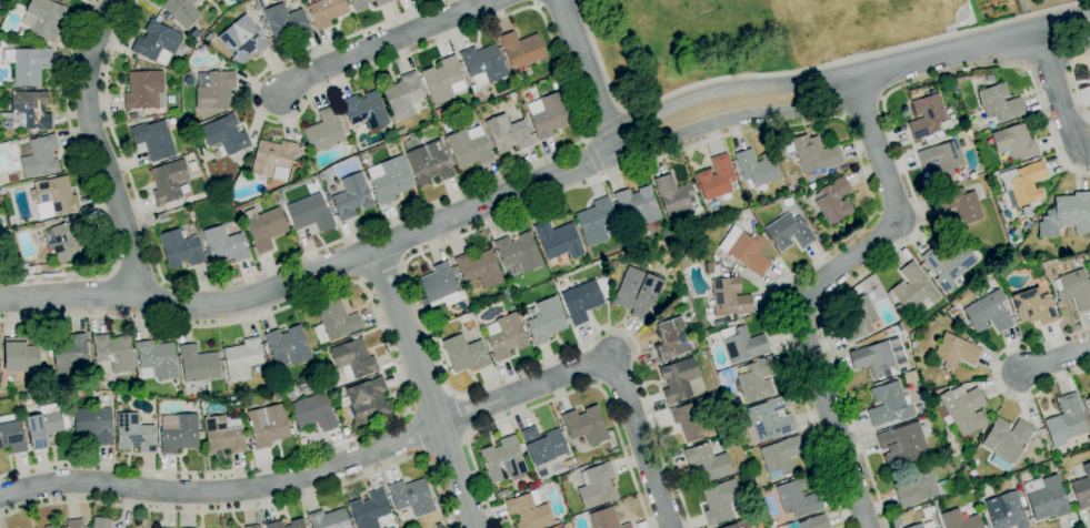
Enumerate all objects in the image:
building: (64, 0)
building: (366, 3)
building: (260, 4)
building: (183, 11)
building: (326, 12)
building: (42, 19)
building: (286, 23)
building: (209, 38)
building: (242, 39)
building: (156, 42)
road: (386, 44)
park: (684, 44)
building: (184, 49)
building: (521, 50)
building: (483, 64)
building: (28, 65)
road: (797, 71)
road: (583, 74)
building: (443, 80)
road: (1073, 80)
building: (951, 81)
building: (143, 90)
building: (214, 90)
road: (1058, 91)
building: (912, 92)
building: (520, 93)
building: (403, 97)
building: (999, 103)
building: (366, 110)
building: (27, 113)
building: (548, 115)
building: (926, 115)
building: (323, 131)
building: (401, 132)
building: (508, 133)
building: (224, 134)
building: (153, 140)
building: (400, 140)
building: (1013, 143)
building: (468, 148)
road: (98, 149)
building: (303, 150)
road: (558, 153)
building: (813, 153)
building: (40, 158)
building: (941, 158)
building: (273, 160)
building: (429, 163)
building: (757, 167)
building: (989, 176)
road: (544, 177)
building: (716, 179)
building: (13, 180)
building: (391, 180)
building: (169, 181)
road: (592, 183)
building: (1022, 184)
building: (811, 185)
road: (89, 187)
building: (672, 195)
building: (351, 196)
building: (54, 197)
road: (917, 199)
building: (833, 201)
building: (638, 204)
building: (960, 205)
building: (1026, 211)
building: (310, 213)
building: (1067, 215)
building: (594, 221)
building: (264, 227)
building: (1069, 231)
building: (789, 232)
building: (664, 233)
building: (1016, 237)
building: (66, 240)
building: (558, 240)
building: (224, 245)
building: (181, 247)
building: (744, 250)
building: (518, 252)
building: (999, 254)
building: (1078, 256)
building: (714, 257)
building: (613, 264)
building: (948, 265)
building: (479, 267)
building: (709, 267)
road: (112, 271)
road: (381, 273)
building: (929, 274)
road: (138, 278)
road: (162, 283)
building: (439, 286)
building: (473, 286)
building: (913, 287)
road: (813, 290)
building: (1073, 290)
building: (637, 292)
building: (506, 293)
building: (1052, 295)
building: (729, 297)
building: (581, 301)
building: (1033, 306)
building: (988, 313)
building: (857, 319)
building: (546, 321)
building: (334, 322)
building: (504, 336)
building: (672, 339)
building: (741, 344)
building: (288, 346)
building: (264, 351)
building: (956, 352)
building: (70, 353)
building: (112, 354)
building: (464, 354)
building: (20, 355)
building: (317, 355)
building: (158, 358)
building: (242, 358)
building: (353, 359)
building: (874, 359)
road: (1057, 362)
building: (199, 364)
road: (397, 370)
road: (998, 376)
building: (678, 379)
building: (756, 379)
road: (427, 387)
building: (184, 390)
building: (278, 394)
building: (118, 397)
road: (558, 398)
building: (233, 399)
building: (368, 400)
building: (701, 400)
road: (430, 403)
building: (1088, 403)
building: (889, 404)
building: (961, 409)
building: (313, 412)
road: (460, 416)
building: (768, 420)
building: (1066, 422)
building: (692, 423)
building: (93, 424)
building: (267, 425)
building: (584, 425)
building: (44, 428)
building: (179, 433)
building: (133, 434)
road: (414, 434)
building: (11, 435)
building: (223, 435)
building: (1007, 439)
road: (638, 443)
building: (903, 444)
road: (444, 446)
building: (542, 446)
building: (949, 454)
building: (780, 456)
building: (503, 461)
building: (707, 463)
building: (1000, 464)
building: (743, 467)
building: (966, 470)
road: (313, 474)
building: (597, 486)
building: (1068, 486)
building: (1082, 488)
building: (921, 489)
building: (502, 494)
building: (760, 494)
building: (411, 497)
building: (1046, 498)
building: (797, 499)
building: (719, 501)
road: (253, 506)
building: (369, 509)
building: (1006, 510)
building: (529, 512)
building: (328, 519)
building: (606, 519)
building: (959, 520)
building: (101, 522)
building: (297, 522)
building: (814, 522)
building: (74, 524)
building: (738, 525)
building: (52, 526)
building: (252, 526)
building: (438, 526)
building: (922, 526)
road: (1086, 526)
building: (158, 527)

